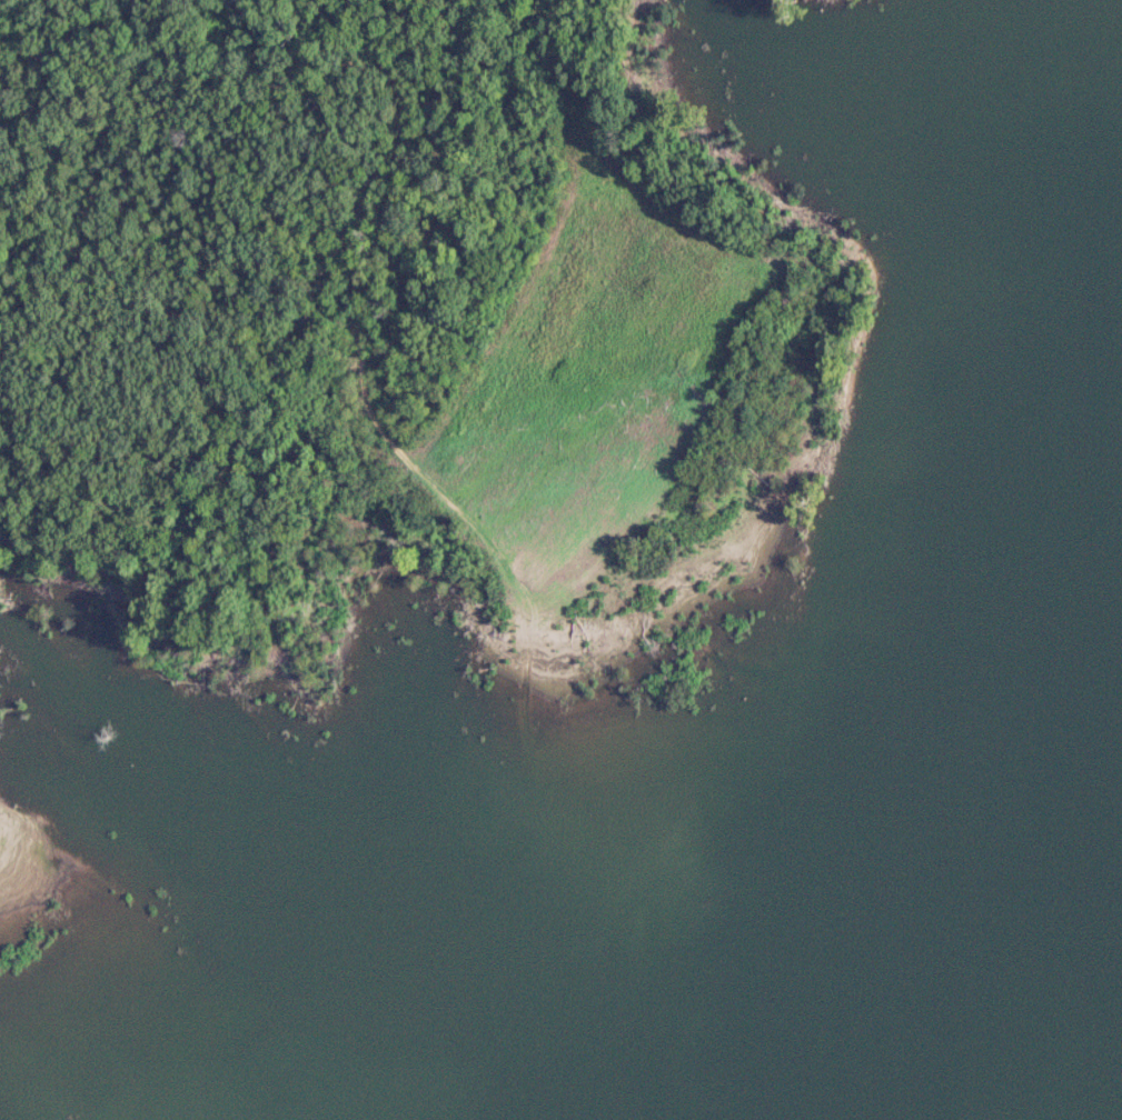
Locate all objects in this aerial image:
road: (624, 16)
road: (234, 260)
road: (106, 894)

